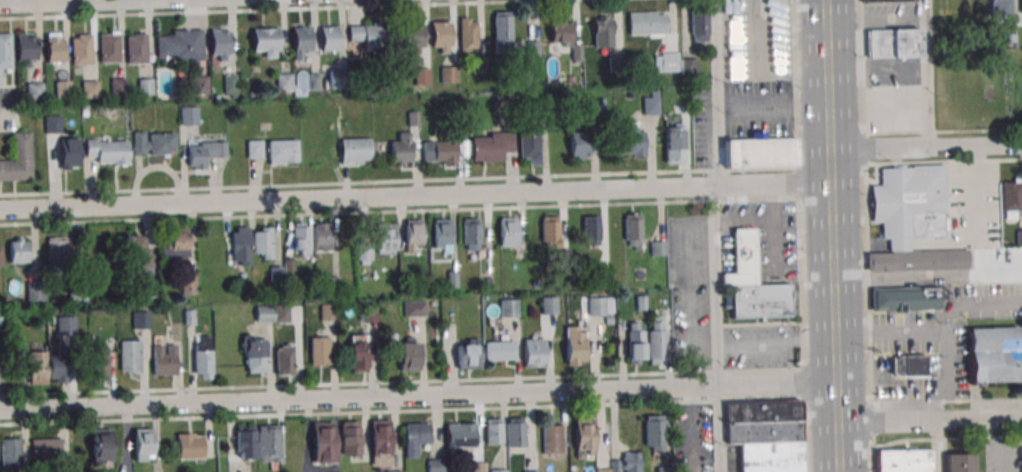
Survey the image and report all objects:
building: (881, 0)
road: (63, 2)
building: (1020, 6)
building: (999, 8)
road: (282, 9)
building: (646, 23)
building: (698, 24)
road: (821, 24)
building: (501, 31)
building: (560, 31)
building: (1019, 31)
building: (602, 33)
building: (467, 34)
building: (370, 35)
building: (412, 35)
building: (440, 36)
building: (329, 37)
building: (265, 41)
building: (300, 41)
building: (895, 42)
building: (219, 44)
building: (108, 46)
building: (179, 46)
building: (53, 47)
building: (24, 48)
building: (136, 48)
building: (532, 48)
building: (80, 49)
building: (5, 50)
building: (576, 53)
building: (665, 61)
building: (617, 63)
building: (477, 65)
building: (689, 65)
road: (925, 73)
building: (448, 74)
building: (421, 75)
building: (0, 78)
building: (336, 78)
building: (284, 81)
building: (312, 82)
building: (117, 85)
building: (199, 85)
building: (229, 85)
building: (89, 87)
building: (144, 87)
building: (63, 88)
road: (825, 89)
building: (34, 91)
building: (650, 102)
building: (596, 106)
road: (771, 106)
building: (543, 110)
building: (83, 113)
building: (188, 115)
building: (413, 119)
building: (52, 123)
road: (942, 131)
building: (631, 142)
building: (153, 143)
building: (528, 143)
building: (579, 144)
building: (673, 144)
building: (491, 146)
road: (924, 147)
building: (254, 148)
building: (401, 149)
building: (106, 150)
building: (353, 150)
building: (280, 151)
building: (440, 151)
building: (68, 152)
building: (761, 152)
building: (204, 153)
building: (18, 158)
road: (943, 162)
road: (400, 182)
road: (978, 189)
road: (415, 195)
building: (1011, 198)
building: (910, 203)
road: (399, 211)
building: (591, 229)
building: (633, 230)
building: (507, 231)
building: (469, 232)
building: (549, 232)
building: (411, 233)
building: (440, 234)
road: (713, 235)
road: (801, 235)
building: (320, 236)
road: (864, 236)
building: (1019, 237)
building: (384, 238)
building: (300, 239)
building: (262, 242)
building: (175, 244)
building: (240, 246)
building: (658, 247)
building: (17, 251)
building: (364, 251)
building: (55, 252)
building: (139, 256)
building: (563, 257)
building: (0, 258)
building: (741, 258)
building: (288, 266)
building: (275, 273)
building: (603, 276)
building: (241, 277)
road: (927, 277)
building: (452, 279)
building: (333, 283)
building: (188, 285)
road: (691, 286)
building: (34, 290)
building: (77, 295)
building: (906, 296)
building: (759, 300)
road: (834, 300)
building: (640, 302)
building: (549, 304)
building: (600, 305)
building: (508, 307)
building: (413, 308)
building: (327, 311)
building: (264, 313)
building: (281, 314)
building: (370, 314)
building: (187, 316)
building: (140, 319)
building: (3, 320)
building: (65, 325)
road: (934, 331)
road: (775, 342)
building: (633, 344)
building: (655, 344)
building: (574, 345)
building: (319, 350)
building: (499, 350)
building: (533, 352)
building: (994, 354)
building: (129, 356)
building: (254, 356)
building: (357, 356)
building: (408, 356)
building: (202, 357)
building: (468, 357)
building: (164, 360)
building: (283, 360)
building: (97, 362)
building: (56, 365)
building: (909, 365)
building: (36, 367)
building: (0, 372)
road: (945, 373)
road: (401, 382)
road: (418, 395)
road: (945, 401)
road: (402, 411)
road: (929, 418)
road: (987, 427)
road: (692, 429)
building: (492, 430)
building: (653, 431)
building: (514, 432)
building: (459, 434)
building: (584, 434)
building: (764, 436)
building: (349, 437)
building: (415, 437)
road: (945, 438)
building: (552, 439)
building: (244, 441)
road: (990, 441)
building: (268, 442)
building: (322, 442)
building: (380, 442)
building: (141, 444)
road: (937, 444)
road: (1007, 444)
building: (100, 446)
building: (189, 447)
building: (45, 448)
building: (10, 451)
road: (999, 456)
building: (903, 460)
building: (958, 462)
building: (626, 463)
building: (435, 465)
building: (476, 467)
building: (664, 469)
building: (602, 470)
building: (396, 471)
building: (497, 471)
building: (530, 471)

